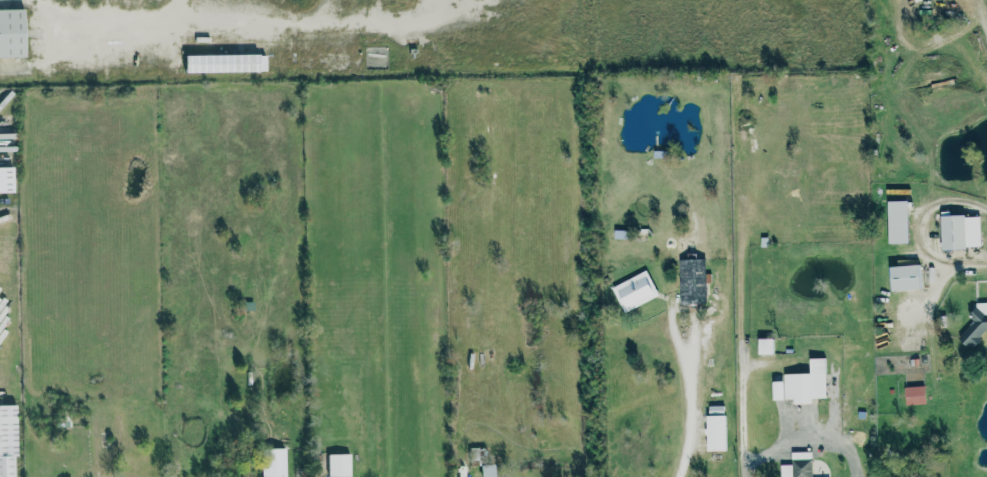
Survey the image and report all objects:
road: (102, 10)
road: (181, 10)
road: (326, 16)
building: (12, 32)
building: (222, 62)
building: (6, 179)
building: (896, 221)
building: (959, 231)
road: (917, 233)
building: (904, 277)
building: (691, 280)
building: (634, 290)
building: (974, 325)
building: (765, 345)
building: (802, 383)
building: (913, 394)
road: (692, 395)
building: (715, 427)
road: (806, 437)
building: (8, 439)
building: (272, 462)
building: (337, 464)
building: (797, 465)
building: (485, 470)

